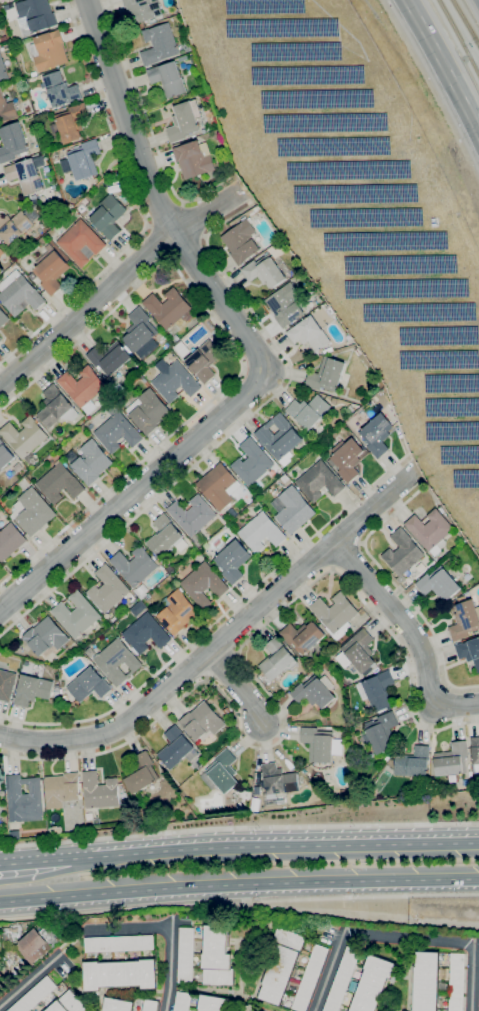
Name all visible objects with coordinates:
building: (143, 10)
building: (36, 16)
building: (153, 21)
railway: (465, 22)
railway: (459, 37)
building: (160, 44)
building: (50, 50)
building: (184, 58)
road: (443, 66)
building: (3, 70)
building: (168, 78)
building: (62, 89)
building: (7, 108)
building: (185, 120)
building: (71, 123)
road: (151, 130)
building: (204, 130)
building: (13, 142)
building: (195, 159)
building: (84, 160)
building: (229, 162)
building: (27, 174)
building: (94, 182)
road: (139, 207)
building: (81, 209)
solar farm: (357, 211)
road: (164, 213)
building: (109, 216)
road: (194, 220)
building: (14, 226)
building: (242, 241)
building: (82, 242)
road: (156, 244)
building: (276, 244)
road: (187, 250)
building: (2, 252)
building: (51, 269)
building: (265, 271)
building: (33, 276)
road: (118, 282)
building: (20, 293)
building: (286, 305)
building: (170, 308)
building: (3, 317)
building: (142, 333)
building: (309, 334)
building: (1, 338)
building: (175, 338)
road: (254, 348)
road: (237, 356)
building: (111, 358)
building: (205, 360)
building: (327, 374)
building: (103, 376)
building: (176, 381)
building: (84, 387)
building: (335, 400)
building: (56, 407)
building: (149, 411)
building: (309, 411)
building: (118, 431)
road: (230, 434)
building: (377, 434)
building: (26, 438)
building: (280, 438)
building: (5, 455)
building: (345, 458)
building: (92, 462)
building: (253, 462)
building: (320, 481)
building: (61, 483)
building: (219, 486)
building: (240, 488)
building: (292, 509)
building: (33, 511)
building: (223, 515)
building: (193, 517)
building: (261, 530)
building: (430, 531)
building: (166, 537)
building: (10, 541)
building: (402, 552)
building: (232, 561)
building: (134, 565)
building: (203, 584)
building: (439, 584)
road: (397, 588)
building: (107, 589)
building: (176, 611)
building: (76, 614)
building: (335, 614)
building: (465, 618)
road: (215, 620)
building: (145, 633)
road: (412, 634)
building: (303, 636)
building: (46, 638)
road: (222, 641)
building: (469, 651)
building: (358, 652)
building: (277, 659)
building: (117, 661)
road: (260, 683)
building: (6, 684)
building: (89, 685)
road: (233, 689)
building: (32, 690)
building: (377, 690)
building: (314, 691)
building: (202, 721)
building: (381, 732)
building: (318, 744)
building: (177, 748)
building: (475, 748)
building: (452, 759)
building: (412, 762)
building: (140, 772)
building: (221, 772)
building: (277, 782)
building: (62, 789)
building: (100, 790)
building: (24, 799)
building: (254, 804)
road: (239, 827)
road: (281, 846)
road: (42, 860)
road: (44, 874)
road: (239, 884)
road: (239, 902)
road: (352, 913)
road: (170, 927)
road: (403, 938)
road: (73, 941)
road: (476, 942)
building: (36, 945)
building: (186, 955)
building: (217, 956)
building: (119, 963)
building: (281, 965)
road: (13, 975)
building: (310, 977)
road: (31, 979)
building: (342, 979)
building: (438, 982)
building: (373, 983)
building: (35, 995)
building: (183, 1001)
building: (68, 1002)
building: (213, 1004)
building: (119, 1005)
building: (150, 1005)
building: (478, 1007)

